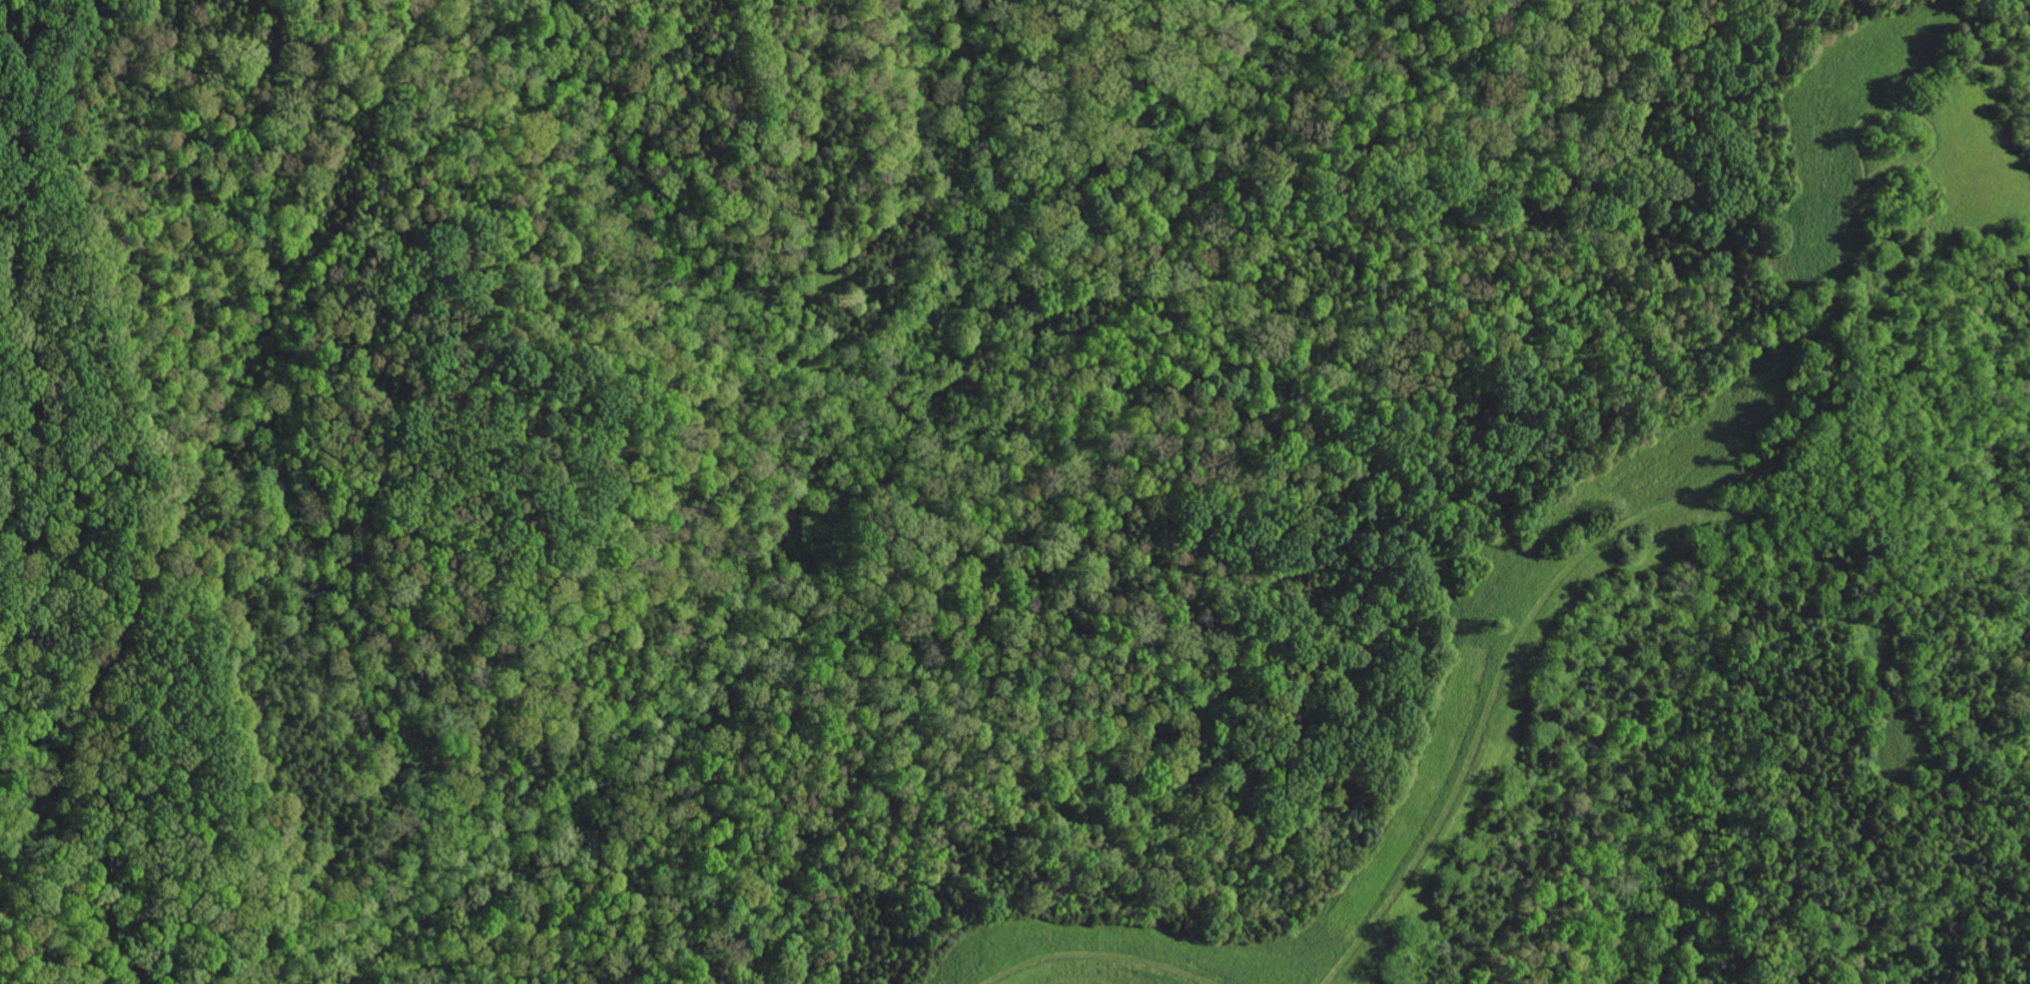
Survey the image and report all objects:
road: (1952, 54)

